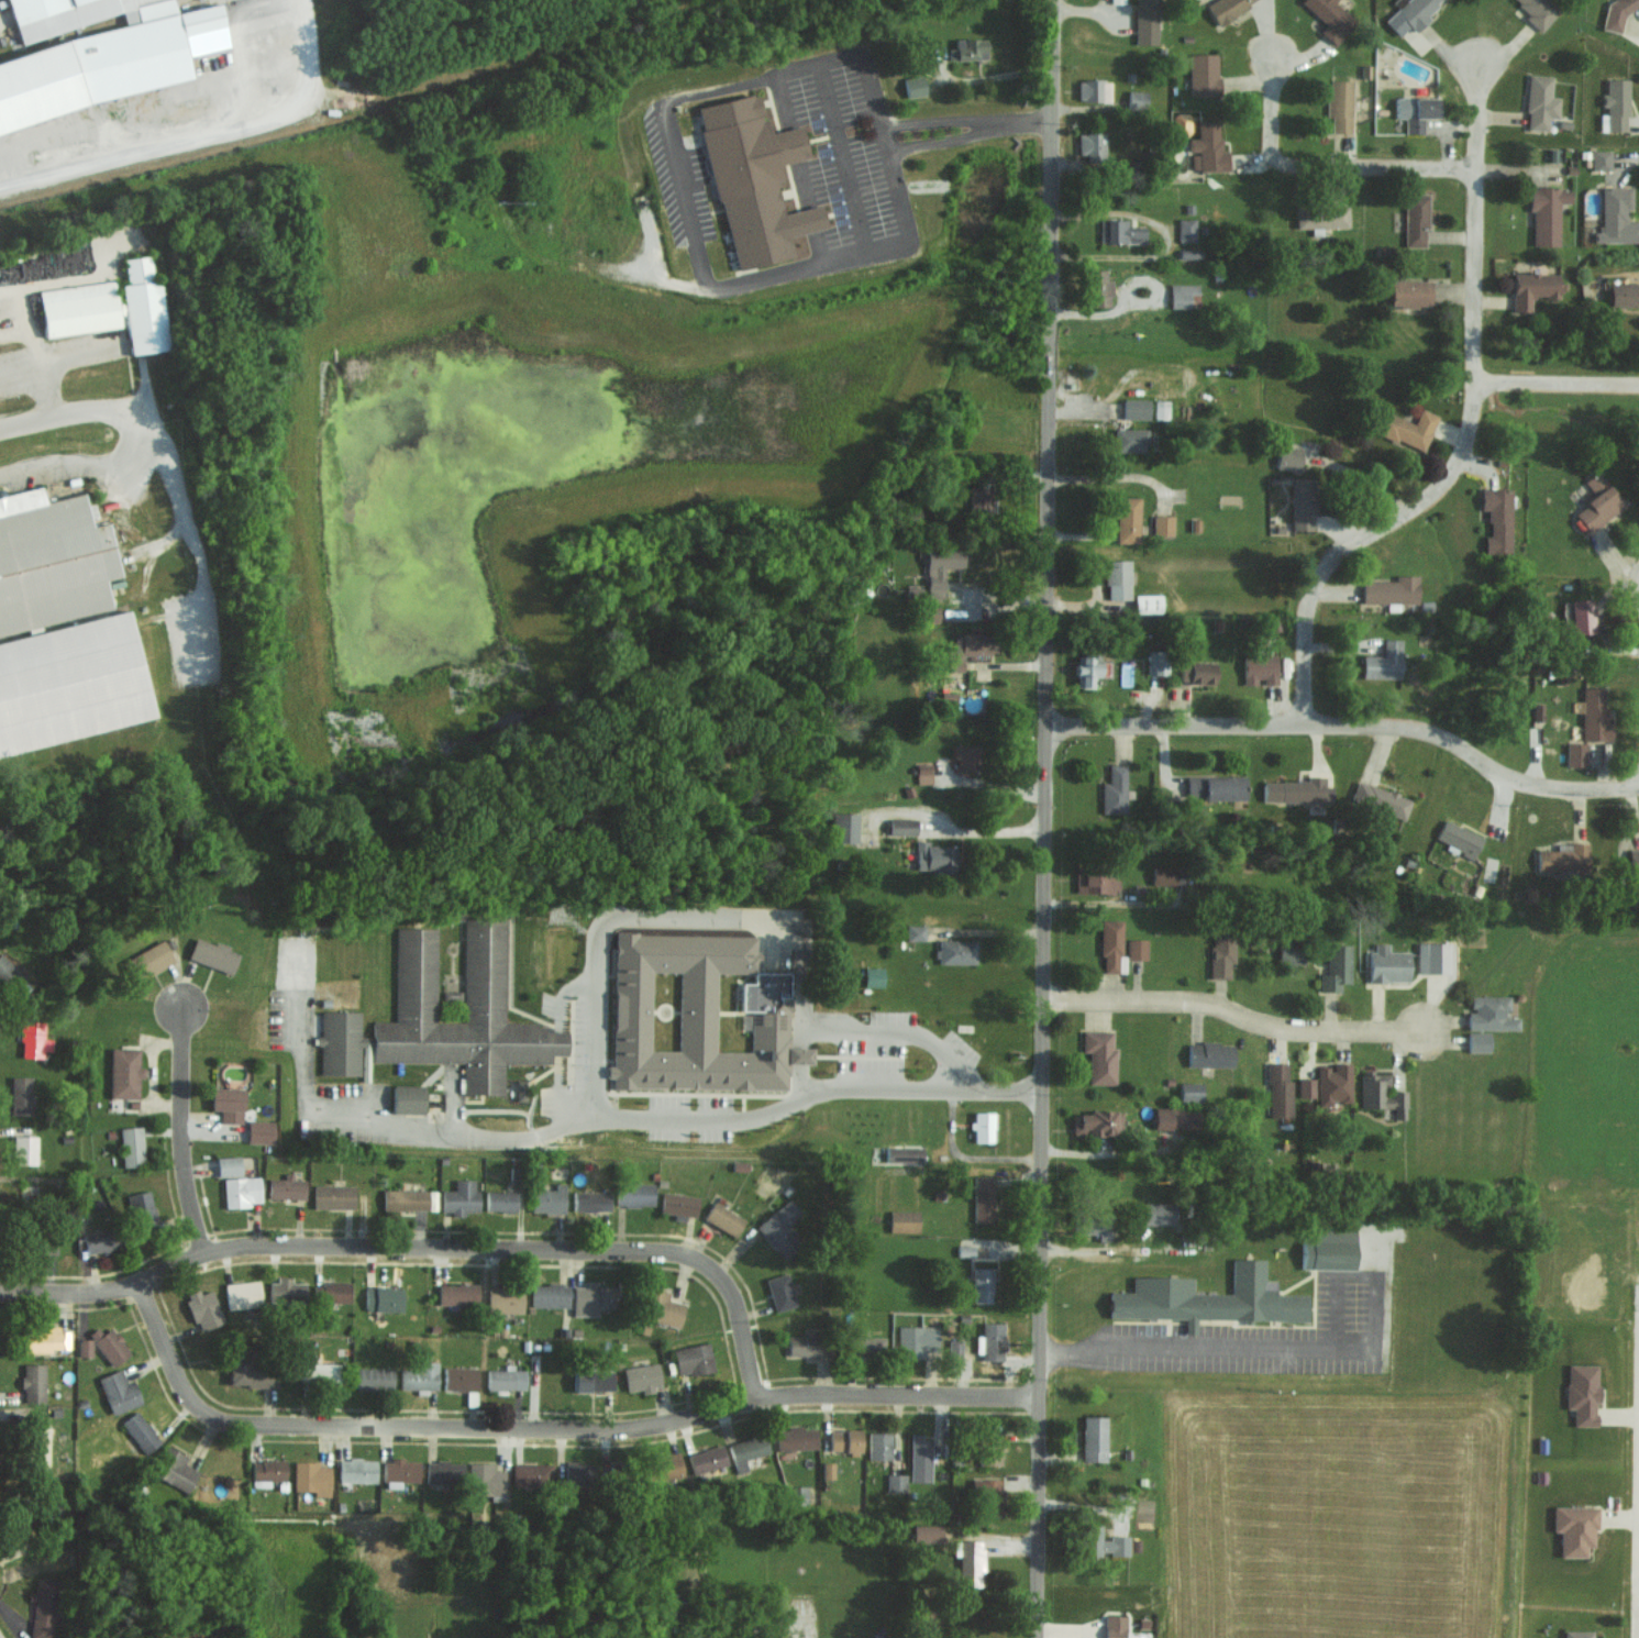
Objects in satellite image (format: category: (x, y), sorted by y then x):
building: (1227, 8)
building: (1539, 11)
building: (1617, 13)
building: (1410, 14)
building: (1331, 19)
building: (1145, 21)
building: (968, 48)
building: (101, 53)
building: (1203, 74)
building: (915, 85)
building: (1093, 89)
building: (1137, 99)
building: (1540, 101)
building: (1340, 104)
building: (1615, 106)
building: (1416, 111)
road: (932, 118)
road: (1017, 120)
building: (1181, 123)
road: (937, 140)
building: (1092, 144)
building: (1207, 147)
building: (1599, 158)
road: (1315, 170)
building: (754, 180)
road: (680, 196)
building: (1547, 213)
building: (1616, 215)
building: (1321, 217)
building: (1416, 219)
building: (1185, 229)
building: (1120, 231)
building: (1189, 253)
building: (1099, 288)
building: (1533, 288)
building: (1410, 292)
building: (1624, 294)
building: (1183, 295)
building: (110, 307)
road: (1557, 383)
building: (1137, 408)
building: (1160, 409)
road: (67, 411)
building: (1408, 428)
road: (1471, 429)
building: (1130, 440)
building: (1288, 458)
road: (79, 460)
building: (979, 498)
building: (1598, 502)
building: (1303, 505)
road: (189, 518)
building: (1128, 519)
building: (1497, 519)
building: (1162, 524)
building: (941, 567)
building: (1117, 578)
building: (1392, 589)
building: (1148, 602)
building: (932, 613)
building: (1582, 616)
building: (62, 627)
building: (12, 635)
building: (971, 646)
building: (1156, 662)
building: (1384, 662)
building: (1260, 668)
building: (1090, 669)
building: (1198, 672)
building: (1594, 715)
road: (1349, 724)
building: (1575, 753)
building: (966, 756)
building: (923, 773)
building: (1216, 787)
building: (1114, 789)
building: (1297, 790)
building: (1381, 800)
road: (1044, 819)
building: (844, 827)
building: (901, 827)
building: (1459, 838)
building: (934, 856)
building: (1564, 859)
building: (1634, 864)
building: (1164, 875)
building: (1096, 882)
road: (743, 918)
building: (915, 932)
building: (1112, 945)
building: (1137, 949)
building: (955, 951)
building: (1292, 952)
building: (1222, 954)
building: (212, 955)
building: (1433, 958)
building: (149, 959)
building: (1388, 964)
building: (1336, 967)
building: (485, 972)
building: (8, 975)
building: (873, 976)
road: (1233, 1012)
building: (1491, 1014)
building: (698, 1015)
building: (33, 1040)
building: (1479, 1041)
building: (340, 1043)
building: (1210, 1054)
building: (1099, 1055)
building: (124, 1073)
building: (1333, 1084)
building: (1305, 1085)
building: (1278, 1089)
building: (1191, 1092)
building: (1381, 1094)
building: (20, 1095)
building: (408, 1098)
building: (228, 1104)
building: (1175, 1118)
road: (622, 1119)
building: (1096, 1124)
building: (983, 1127)
road: (175, 1128)
building: (259, 1131)
building: (131, 1146)
building: (24, 1149)
building: (904, 1154)
building: (229, 1166)
building: (285, 1187)
building: (241, 1191)
building: (634, 1194)
building: (333, 1196)
building: (461, 1198)
building: (983, 1198)
building: (405, 1199)
building: (549, 1199)
building: (500, 1200)
building: (590, 1202)
building: (678, 1205)
building: (141, 1207)
building: (1159, 1214)
building: (723, 1219)
building: (904, 1221)
building: (779, 1229)
building: (1097, 1229)
building: (99, 1241)
road: (492, 1243)
building: (1331, 1250)
building: (964, 1251)
building: (983, 1285)
building: (287, 1291)
building: (331, 1292)
building: (780, 1292)
road: (74, 1293)
building: (242, 1294)
building: (456, 1294)
building: (549, 1295)
building: (591, 1298)
building: (1210, 1298)
building: (383, 1299)
building: (505, 1299)
building: (663, 1308)
building: (203, 1309)
building: (990, 1336)
building: (45, 1339)
building: (109, 1344)
building: (805, 1344)
building: (868, 1346)
building: (84, 1347)
road: (1204, 1349)
building: (693, 1359)
building: (322, 1373)
building: (251, 1375)
building: (419, 1376)
building: (642, 1377)
building: (373, 1379)
building: (459, 1379)
building: (506, 1380)
building: (594, 1382)
building: (33, 1384)
building: (119, 1392)
building: (1582, 1393)
road: (552, 1427)
building: (139, 1430)
building: (797, 1438)
building: (1094, 1439)
building: (845, 1440)
building: (996, 1442)
building: (879, 1446)
building: (38, 1447)
building: (746, 1451)
building: (707, 1459)
building: (919, 1459)
building: (668, 1465)
building: (174, 1469)
building: (268, 1470)
building: (357, 1471)
building: (399, 1472)
building: (443, 1472)
building: (530, 1474)
building: (576, 1474)
building: (311, 1477)
building: (486, 1481)
building: (896, 1483)
building: (989, 1497)
building: (1574, 1528)
building: (927, 1531)
building: (1106, 1542)
building: (970, 1561)
building: (42, 1607)
building: (1114, 1626)
building: (1579, 1634)

